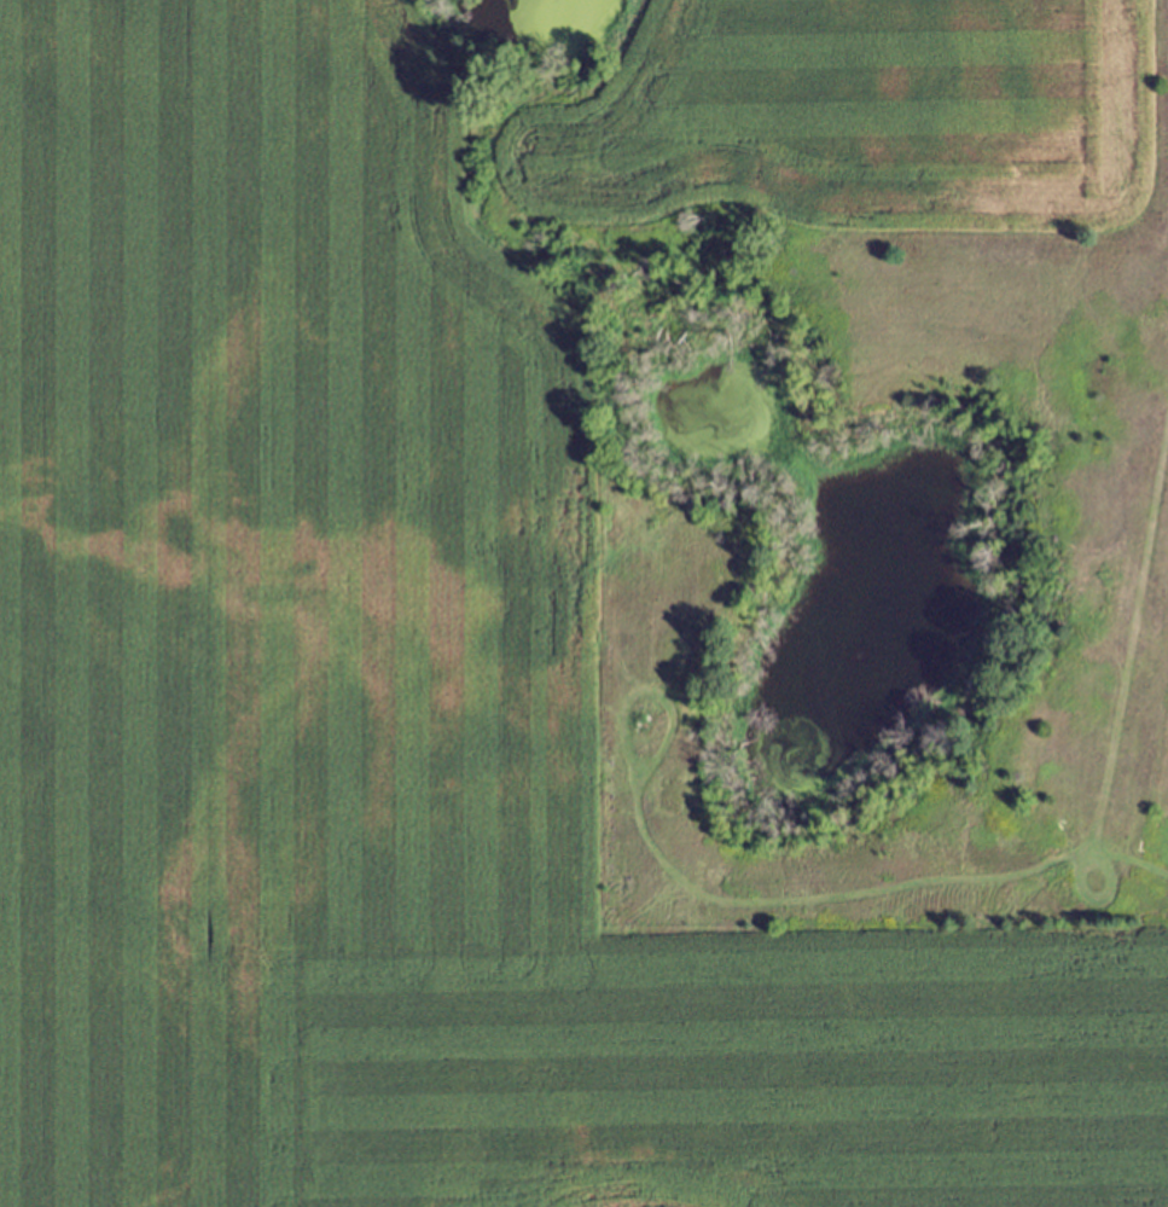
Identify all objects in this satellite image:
airport: (1109, 455)
airport runway: (1146, 598)

